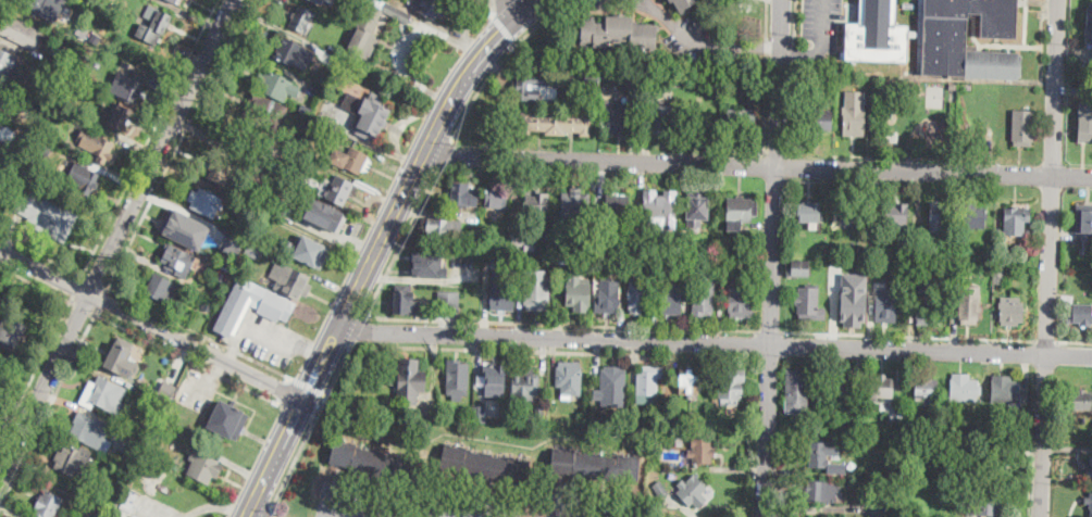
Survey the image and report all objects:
building: (313, 0)
building: (331, 0)
building: (173, 1)
building: (319, 1)
building: (683, 3)
building: (38, 4)
road: (518, 5)
building: (431, 8)
road: (492, 8)
building: (83, 9)
building: (123, 16)
building: (301, 17)
road: (795, 20)
parking lot: (823, 23)
building: (1090, 23)
building: (373, 24)
building: (152, 25)
road: (502, 28)
building: (18, 29)
building: (619, 31)
building: (936, 37)
road: (517, 41)
road: (704, 42)
road: (820, 46)
building: (288, 51)
building: (61, 52)
road: (795, 52)
road: (502, 61)
building: (8, 65)
building: (337, 66)
road: (766, 75)
building: (593, 77)
building: (638, 77)
building: (322, 78)
building: (52, 79)
building: (673, 79)
building: (275, 85)
building: (128, 87)
building: (536, 87)
building: (954, 87)
building: (1, 90)
building: (1078, 90)
building: (3, 100)
road: (793, 108)
building: (305, 109)
building: (268, 112)
building: (51, 113)
building: (367, 113)
building: (855, 114)
building: (816, 116)
building: (120, 117)
building: (616, 117)
building: (741, 119)
building: (660, 121)
building: (312, 123)
building: (556, 123)
building: (634, 127)
building: (1022, 127)
building: (1084, 129)
building: (892, 136)
road: (150, 137)
building: (92, 140)
road: (178, 142)
road: (161, 147)
building: (42, 149)
road: (775, 151)
road: (445, 152)
road: (893, 154)
building: (349, 159)
building: (319, 164)
road: (758, 165)
building: (274, 169)
building: (220, 172)
building: (84, 177)
building: (268, 180)
building: (339, 190)
building: (266, 193)
building: (463, 193)
building: (496, 196)
building: (204, 201)
building: (618, 203)
building: (575, 204)
building: (536, 205)
building: (695, 207)
building: (659, 211)
building: (808, 211)
building: (849, 211)
building: (323, 213)
building: (741, 213)
building: (896, 213)
building: (41, 214)
building: (971, 215)
building: (269, 216)
building: (940, 216)
building: (1017, 219)
building: (1085, 220)
building: (444, 229)
building: (187, 230)
building: (498, 231)
road: (401, 239)
building: (521, 239)
building: (233, 242)
building: (549, 242)
road: (377, 245)
building: (584, 248)
building: (681, 248)
building: (673, 249)
building: (253, 250)
building: (309, 251)
road: (41, 252)
building: (865, 253)
road: (773, 257)
road: (1051, 257)
building: (562, 258)
building: (667, 258)
building: (655, 260)
building: (178, 261)
building: (624, 261)
building: (715, 262)
building: (429, 265)
building: (740, 266)
building: (798, 268)
building: (917, 268)
building: (958, 270)
road: (44, 274)
building: (223, 274)
building: (906, 274)
building: (998, 275)
road: (96, 279)
building: (289, 280)
road: (36, 281)
road: (77, 286)
building: (160, 289)
building: (504, 289)
building: (537, 289)
building: (579, 293)
building: (608, 294)
road: (103, 295)
building: (638, 295)
building: (670, 295)
building: (704, 298)
building: (853, 298)
building: (448, 299)
building: (1067, 299)
building: (740, 301)
building: (405, 302)
building: (809, 302)
building: (927, 302)
road: (80, 303)
building: (207, 304)
building: (886, 304)
building: (969, 305)
building: (274, 306)
building: (1012, 311)
building: (1080, 314)
road: (561, 321)
road: (359, 327)
road: (764, 329)
building: (11, 330)
road: (199, 332)
road: (268, 332)
road: (929, 335)
parking lot: (270, 339)
road: (1043, 339)
road: (1074, 340)
road: (715, 343)
road: (196, 348)
road: (494, 348)
road: (235, 352)
road: (313, 354)
road: (186, 355)
building: (120, 357)
road: (36, 374)
building: (495, 374)
building: (457, 378)
building: (570, 378)
building: (409, 381)
building: (648, 381)
building: (690, 381)
road: (309, 384)
building: (524, 386)
building: (796, 386)
road: (44, 387)
building: (613, 387)
building: (731, 387)
building: (882, 387)
building: (965, 388)
building: (840, 389)
building: (1005, 389)
building: (926, 390)
road: (285, 391)
building: (104, 395)
building: (163, 398)
building: (1081, 401)
road: (48, 405)
road: (297, 412)
building: (479, 414)
building: (539, 414)
building: (897, 414)
building: (386, 415)
building: (498, 419)
building: (618, 420)
building: (226, 421)
building: (666, 421)
road: (311, 423)
building: (818, 426)
building: (89, 430)
building: (680, 442)
building: (131, 446)
building: (154, 450)
building: (700, 451)
building: (818, 454)
building: (74, 462)
building: (373, 462)
building: (890, 462)
building: (484, 466)
building: (596, 466)
building: (994, 466)
building: (203, 467)
building: (1089, 469)
building: (691, 489)
building: (660, 490)
building: (822, 491)
building: (132, 501)
building: (1089, 502)
building: (112, 503)
building: (47, 504)
building: (983, 504)
parking lot: (411, 506)
building: (878, 506)
road: (327, 510)
road: (359, 510)
road: (268, 512)
road: (451, 512)
building: (100, 515)
road: (246, 515)
road: (252, 515)

